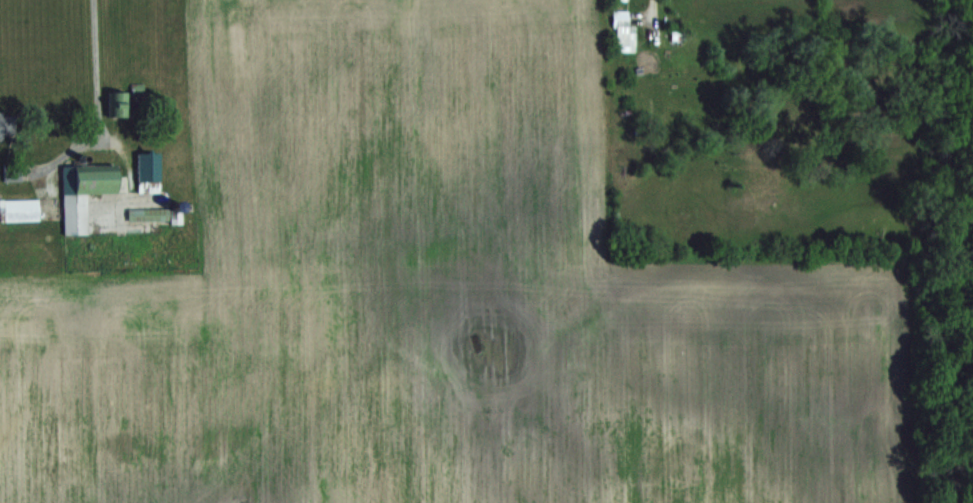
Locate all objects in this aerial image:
building: (623, 34)

